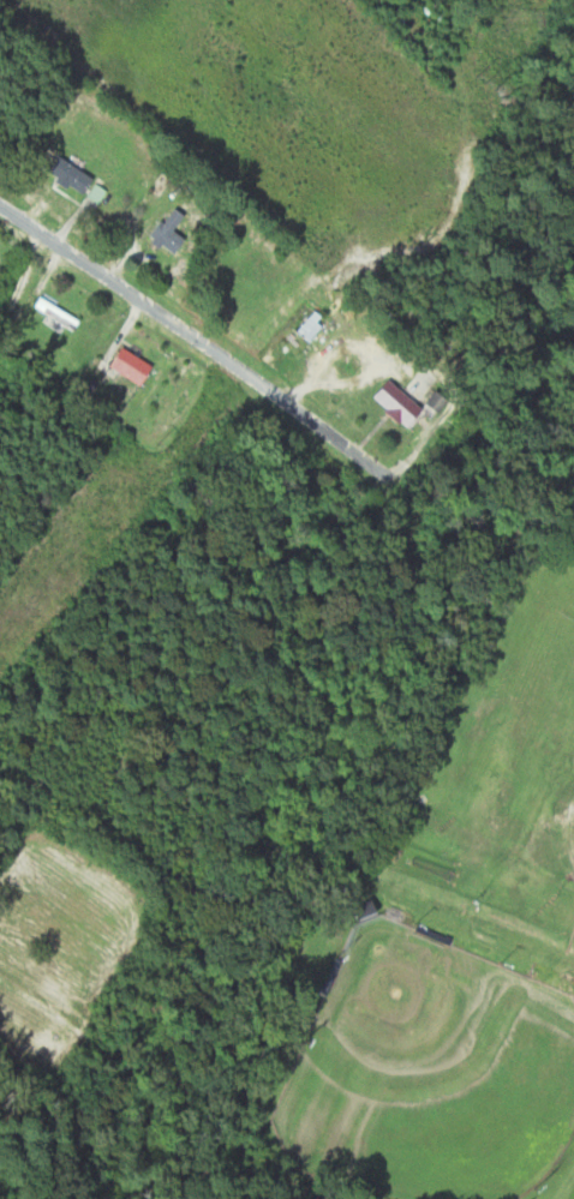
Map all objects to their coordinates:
power tower: (483, 80)
building: (66, 176)
building: (163, 232)
road: (193, 340)
building: (124, 366)
building: (388, 403)
power tower: (160, 446)
building: (360, 910)

